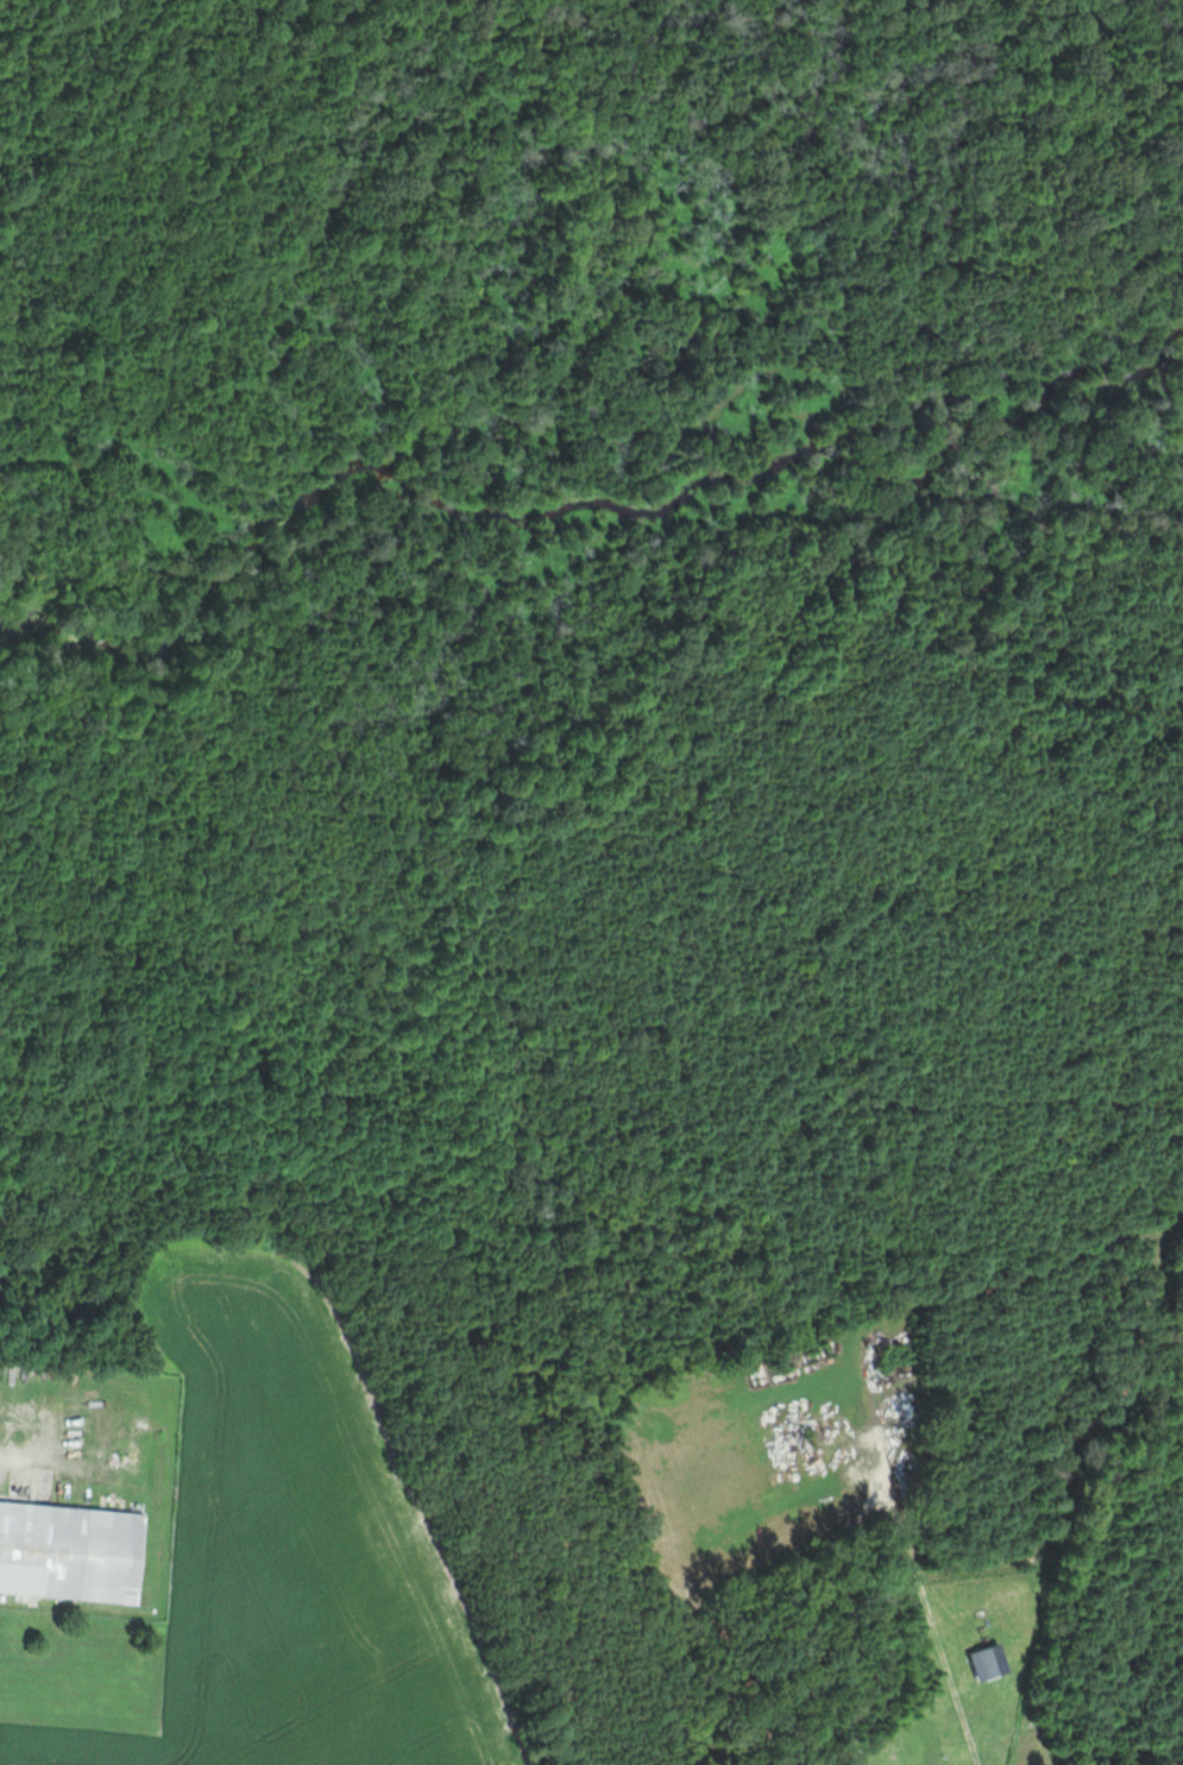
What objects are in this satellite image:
building: (74, 1552)

